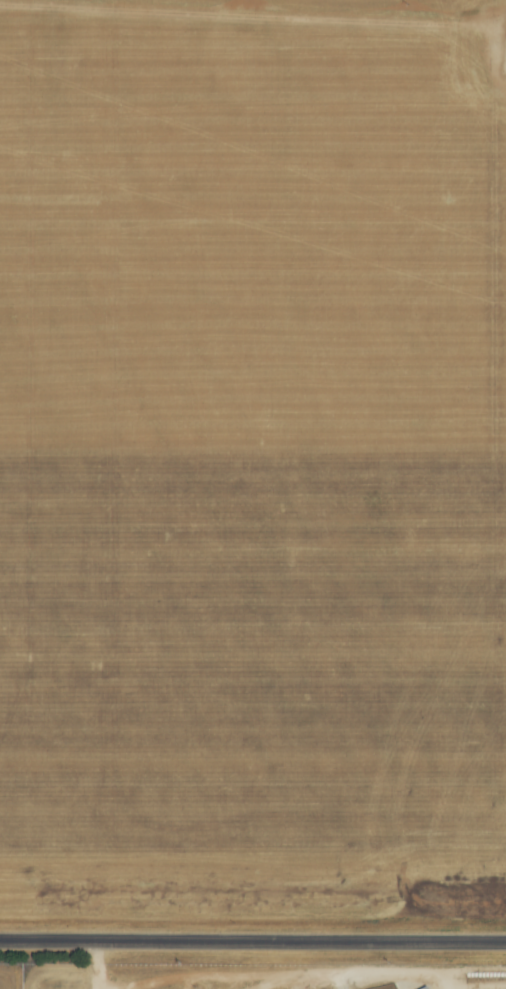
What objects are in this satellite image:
road: (253, 939)
building: (428, 988)

